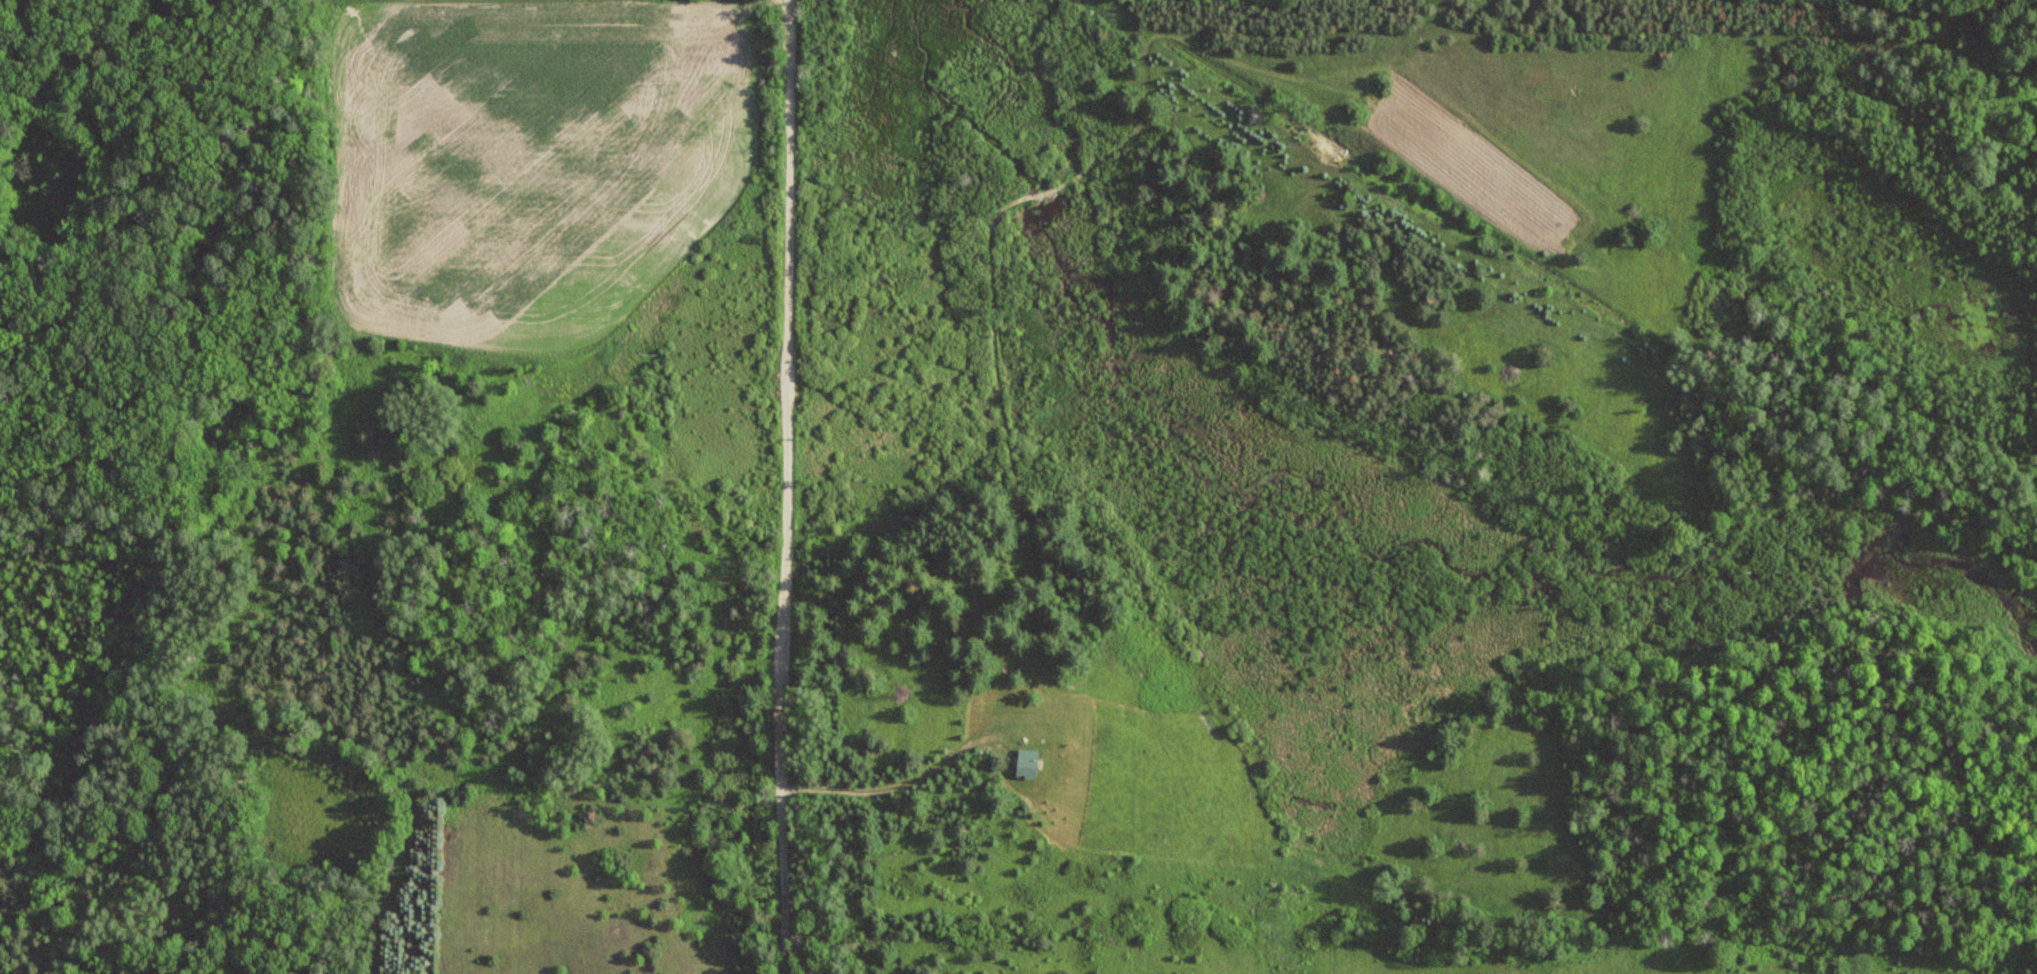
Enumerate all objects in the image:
road: (787, 487)
building: (1026, 766)

